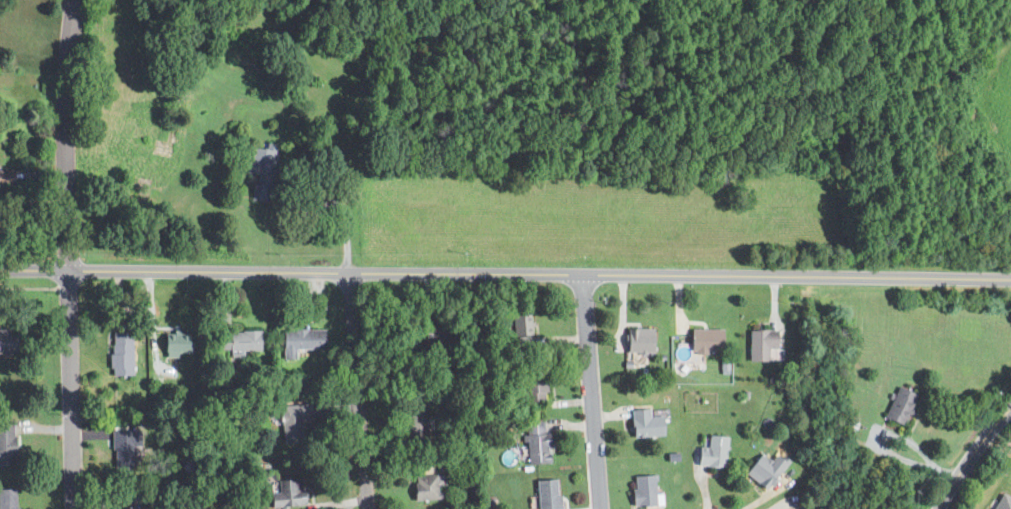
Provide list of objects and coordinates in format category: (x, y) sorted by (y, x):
building: (262, 172)
building: (7, 179)
road: (340, 217)
road: (66, 254)
road: (63, 268)
road: (568, 274)
building: (521, 325)
building: (436, 333)
building: (237, 340)
building: (301, 340)
building: (639, 340)
building: (706, 340)
building: (7, 342)
building: (176, 344)
building: (760, 344)
building: (120, 354)
building: (534, 387)
road: (356, 391)
road: (589, 391)
building: (899, 405)
building: (292, 421)
building: (416, 423)
building: (645, 423)
building: (537, 442)
building: (7, 446)
building: (122, 448)
building: (713, 452)
road: (973, 460)
building: (766, 469)
building: (425, 488)
building: (643, 491)
building: (288, 494)
building: (547, 494)
building: (8, 499)
building: (1003, 502)

